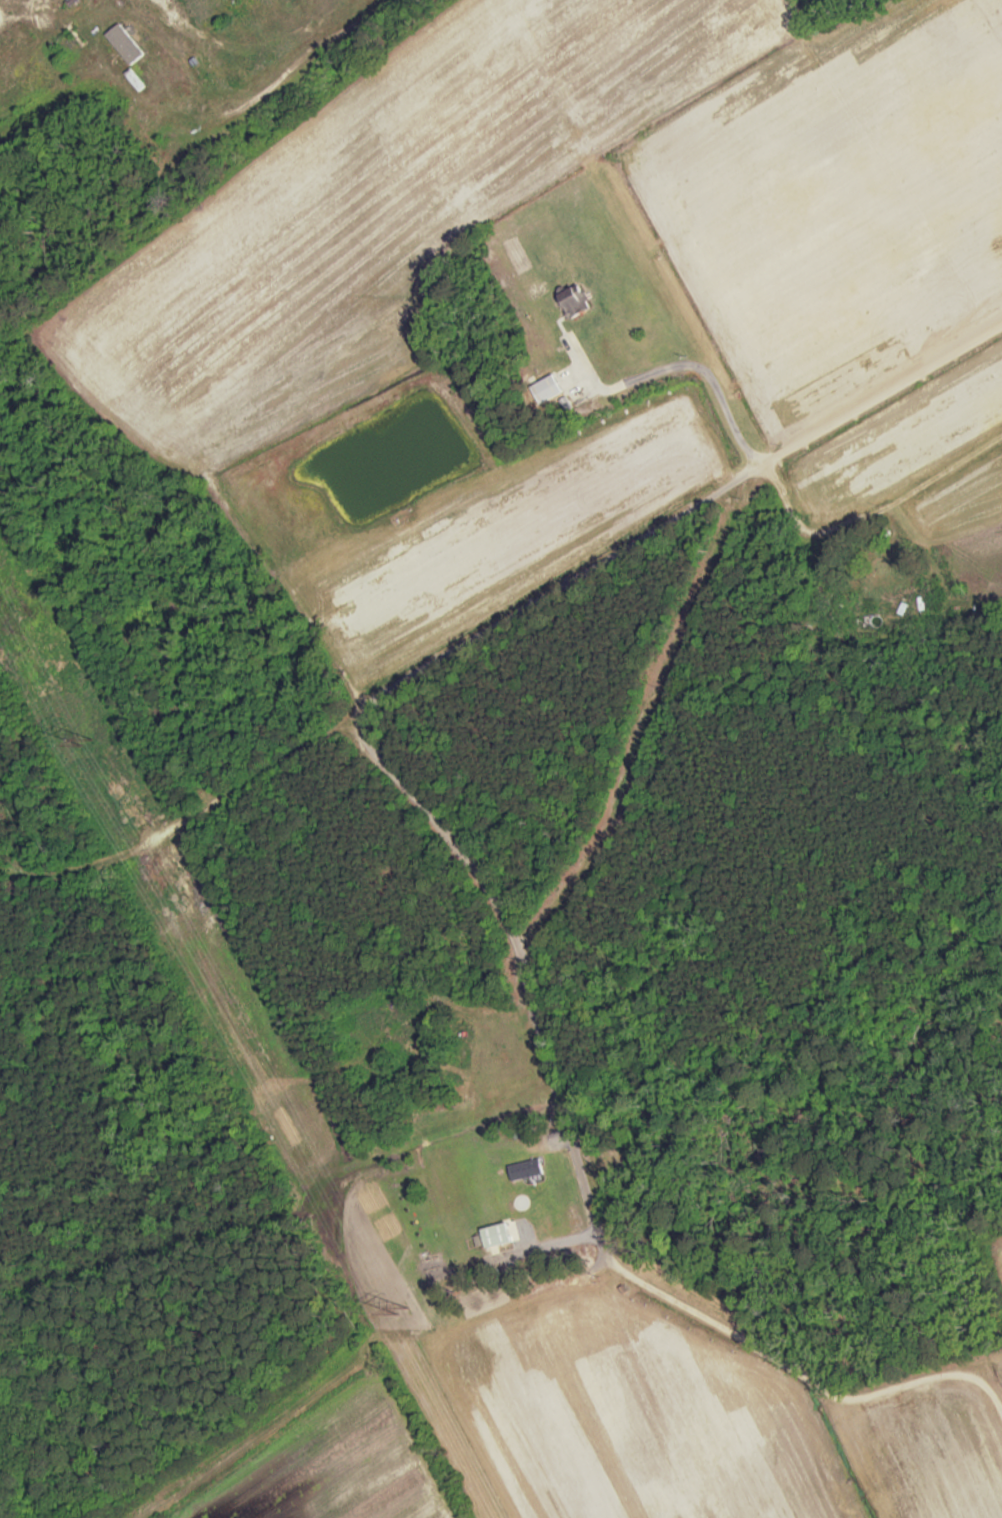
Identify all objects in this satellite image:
building: (127, 44)
building: (578, 302)
building: (549, 390)
building: (900, 586)
building: (866, 590)
power tower: (89, 741)
building: (527, 1169)
building: (499, 1235)
power tower: (405, 1311)

